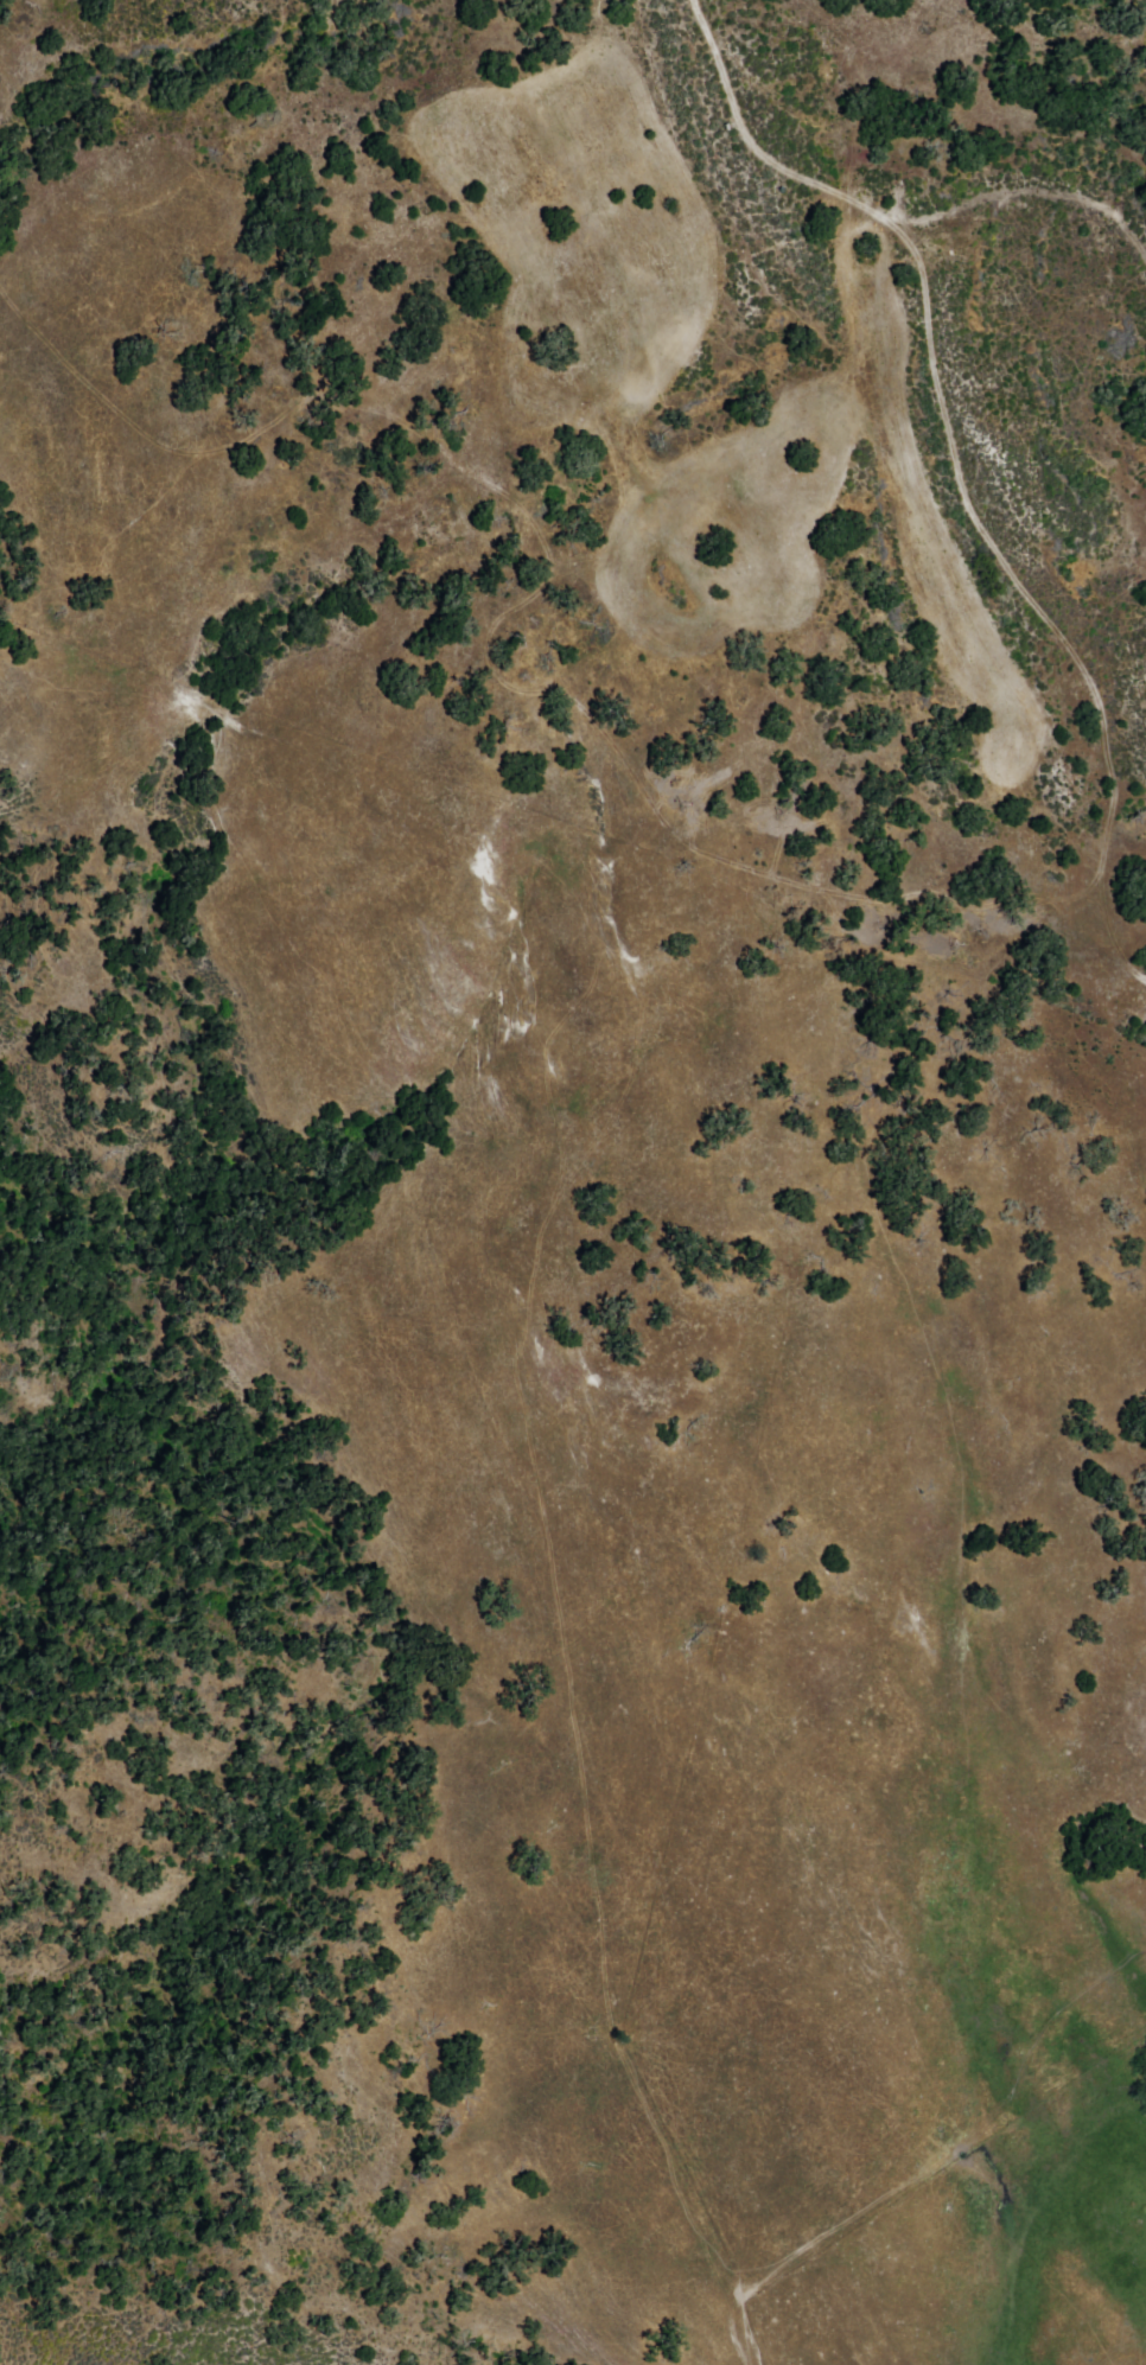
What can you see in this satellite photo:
road: (1110, 837)

